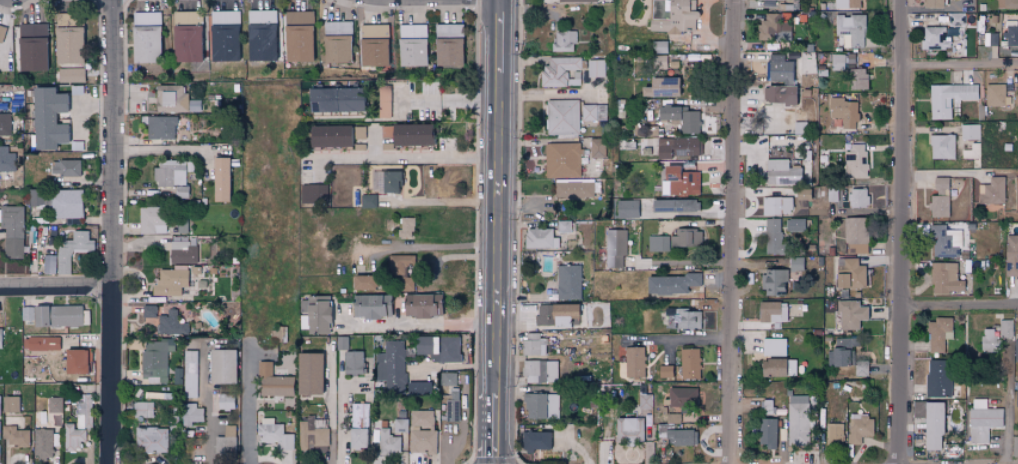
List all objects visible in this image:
building: (782, 0)
building: (932, 3)
building: (847, 4)
building: (1007, 4)
building: (674, 19)
building: (774, 27)
building: (448, 30)
building: (850, 30)
building: (2, 32)
building: (260, 35)
building: (224, 36)
building: (297, 36)
building: (1011, 36)
building: (145, 37)
road: (501, 37)
building: (936, 38)
building: (336, 41)
building: (563, 41)
building: (186, 43)
building: (67, 45)
building: (372, 45)
building: (412, 45)
building: (31, 47)
building: (447, 51)
building: (658, 62)
building: (838, 62)
road: (960, 63)
building: (596, 68)
building: (779, 69)
building: (559, 71)
building: (70, 75)
building: (574, 78)
building: (856, 79)
building: (659, 87)
building: (778, 95)
building: (996, 96)
building: (173, 98)
building: (334, 99)
building: (949, 99)
building: (384, 101)
road: (449, 102)
building: (594, 112)
building: (843, 112)
building: (47, 118)
building: (562, 118)
building: (689, 122)
building: (4, 124)
building: (161, 127)
building: (970, 131)
building: (406, 134)
building: (327, 136)
building: (356, 136)
building: (831, 141)
building: (678, 147)
building: (942, 147)
building: (597, 148)
road: (171, 149)
building: (972, 151)
road: (407, 159)
building: (6, 160)
building: (562, 160)
building: (855, 161)
building: (65, 167)
building: (170, 173)
building: (781, 173)
building: (220, 179)
building: (384, 181)
building: (414, 181)
building: (678, 182)
building: (573, 189)
building: (991, 191)
building: (180, 192)
building: (313, 194)
building: (858, 198)
building: (939, 198)
building: (368, 200)
road: (444, 202)
building: (66, 203)
building: (674, 206)
building: (776, 206)
building: (626, 209)
building: (151, 220)
building: (794, 225)
building: (563, 226)
building: (405, 227)
building: (12, 229)
road: (113, 231)
road: (900, 231)
road: (733, 232)
road: (501, 234)
building: (855, 234)
building: (773, 237)
building: (540, 238)
building: (686, 238)
building: (658, 243)
building: (942, 243)
road: (442, 245)
building: (615, 248)
building: (71, 250)
building: (1011, 256)
building: (399, 264)
building: (849, 273)
building: (944, 278)
building: (170, 282)
building: (363, 282)
building: (568, 282)
building: (776, 282)
building: (672, 284)
road: (141, 285)
road: (56, 291)
building: (421, 306)
building: (370, 307)
road: (959, 311)
building: (771, 312)
building: (314, 314)
building: (850, 314)
building: (53, 315)
building: (556, 315)
building: (169, 318)
building: (686, 320)
road: (418, 325)
building: (1006, 329)
building: (938, 334)
building: (1, 338)
road: (686, 340)
building: (987, 340)
building: (41, 343)
building: (534, 345)
building: (773, 347)
building: (437, 348)
building: (1016, 350)
building: (841, 351)
building: (154, 359)
building: (76, 361)
building: (634, 362)
building: (352, 363)
building: (689, 364)
building: (221, 366)
building: (391, 367)
building: (776, 367)
building: (618, 370)
building: (664, 371)
building: (540, 372)
building: (190, 374)
building: (307, 374)
building: (938, 378)
building: (447, 379)
building: (272, 382)
building: (419, 387)
building: (0, 396)
building: (681, 398)
building: (226, 401)
building: (645, 401)
building: (10, 404)
building: (55, 405)
building: (454, 405)
building: (541, 406)
road: (199, 409)
road: (248, 409)
road: (326, 409)
building: (142, 410)
building: (191, 414)
building: (358, 415)
building: (422, 419)
building: (798, 420)
building: (981, 421)
building: (930, 423)
building: (401, 425)
building: (0, 427)
building: (859, 428)
road: (500, 429)
building: (628, 430)
building: (766, 433)
building: (834, 433)
building: (273, 434)
building: (312, 435)
building: (16, 437)
building: (680, 437)
building: (74, 438)
building: (356, 439)
building: (151, 440)
building: (225, 441)
building: (534, 441)
building: (389, 442)
building: (423, 442)
building: (43, 444)
building: (0, 446)

